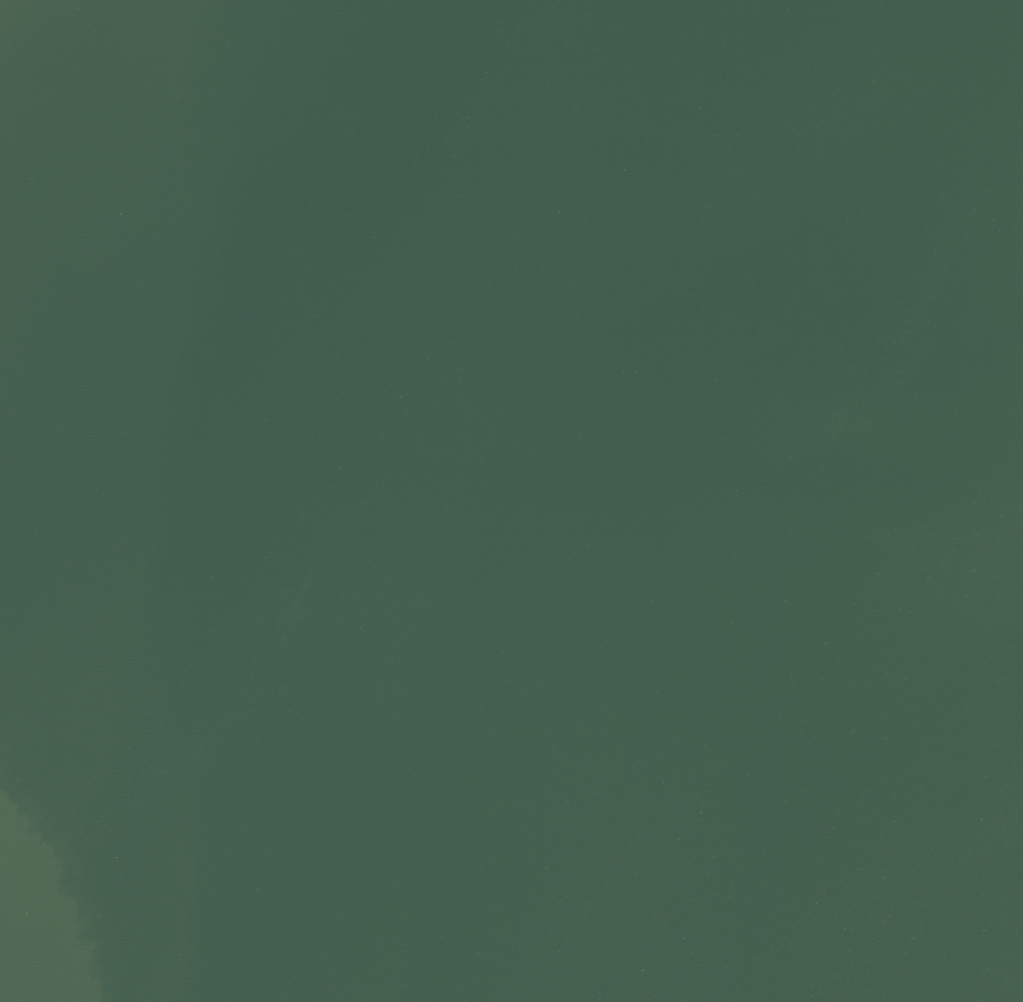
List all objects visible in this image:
river: (281, 560)

